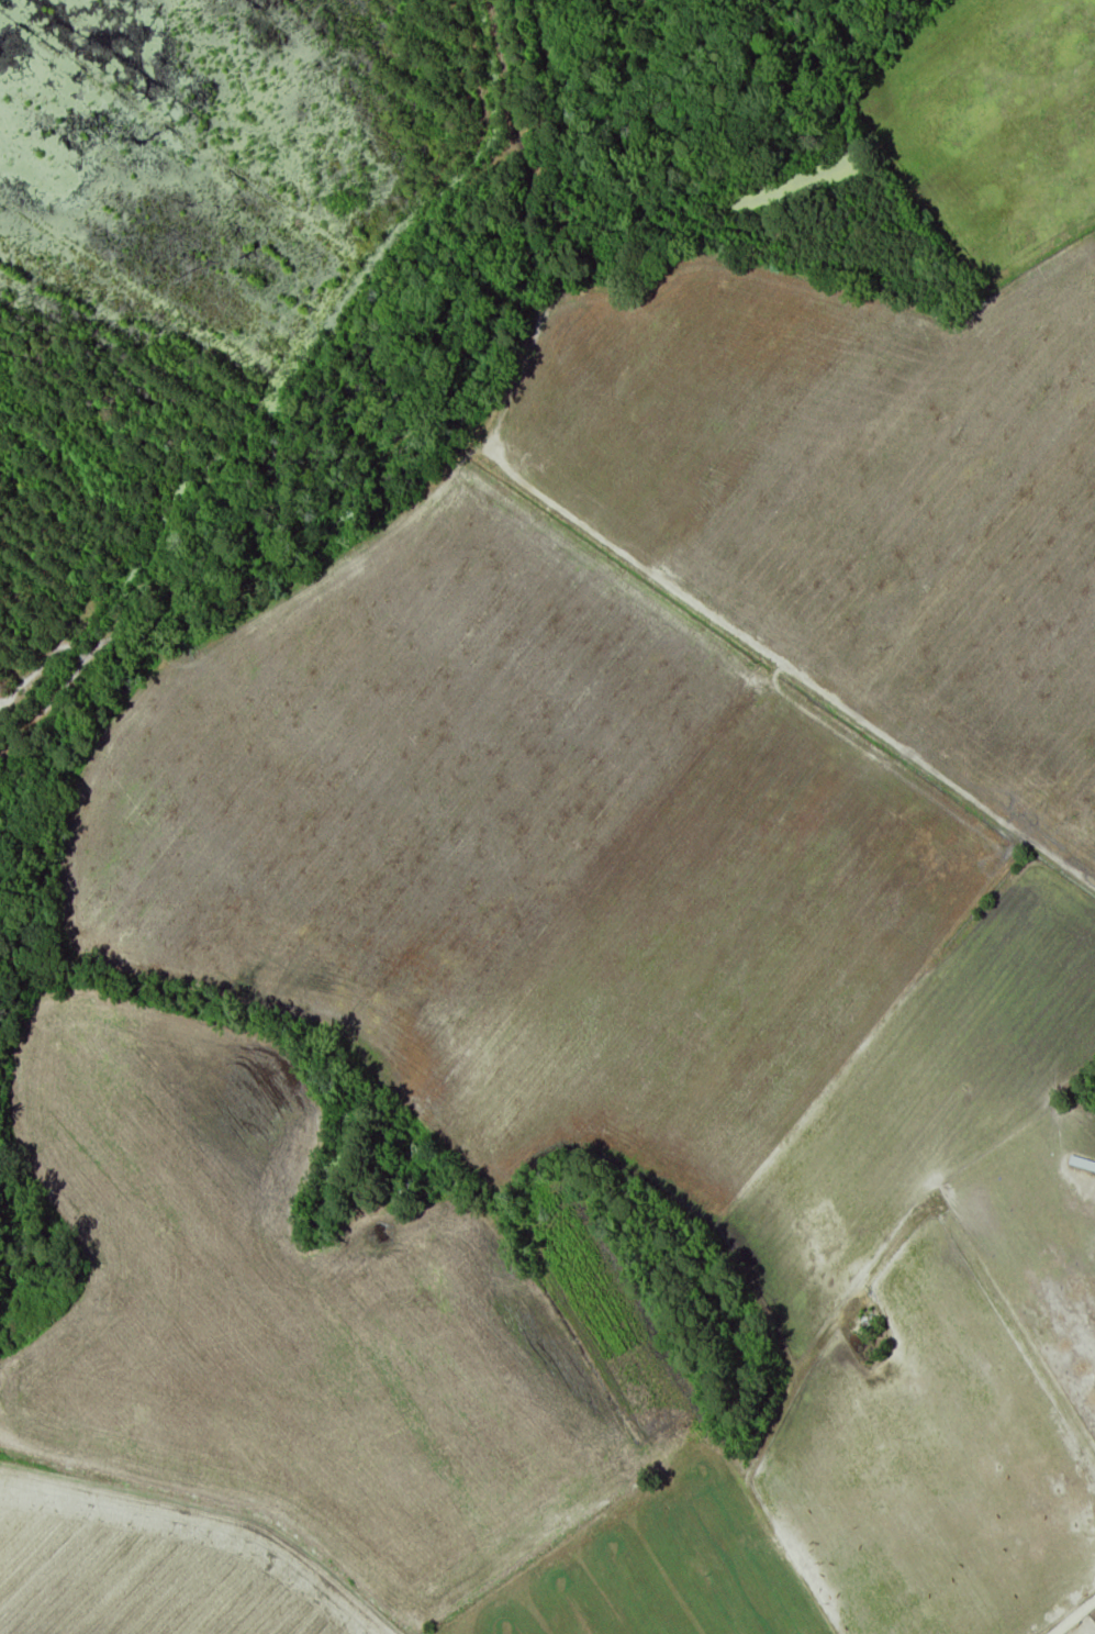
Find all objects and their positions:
building: (864, 1322)

